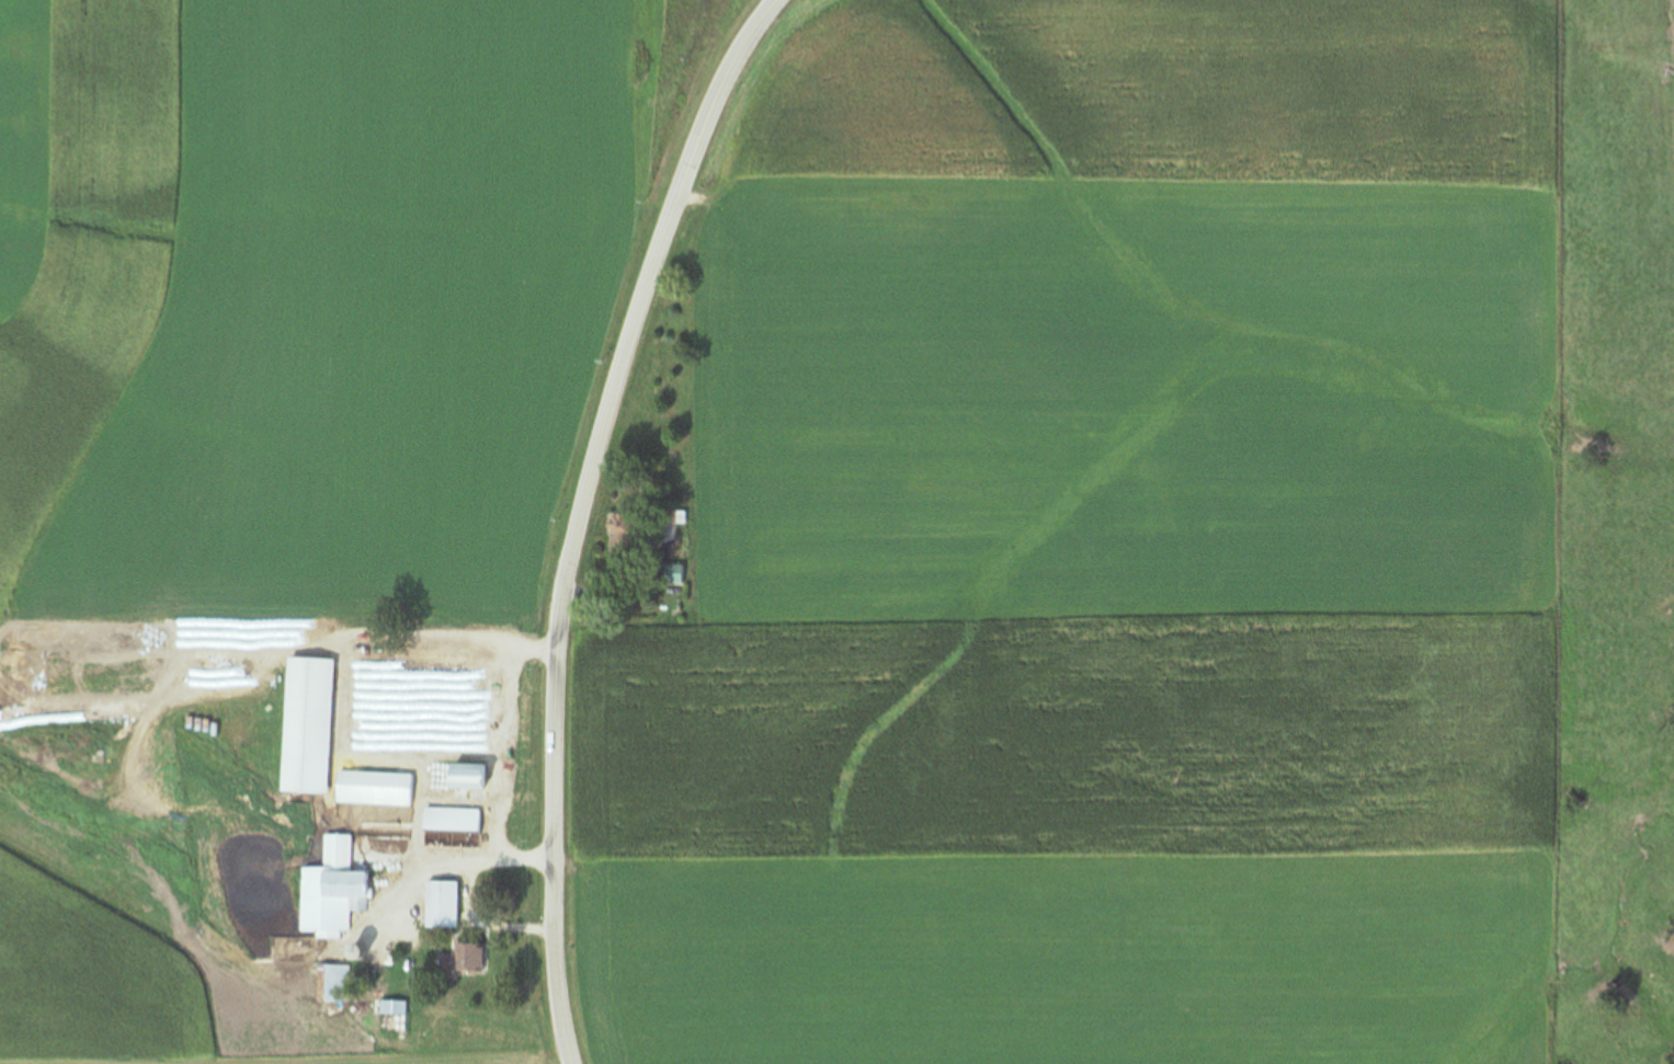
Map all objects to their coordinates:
road: (582, 513)
building: (626, 541)
building: (672, 573)
building: (307, 725)
building: (465, 776)
building: (375, 788)
building: (449, 850)
road: (477, 863)
building: (333, 889)
building: (442, 904)
road: (483, 928)
building: (464, 959)
building: (335, 983)
building: (394, 1017)

